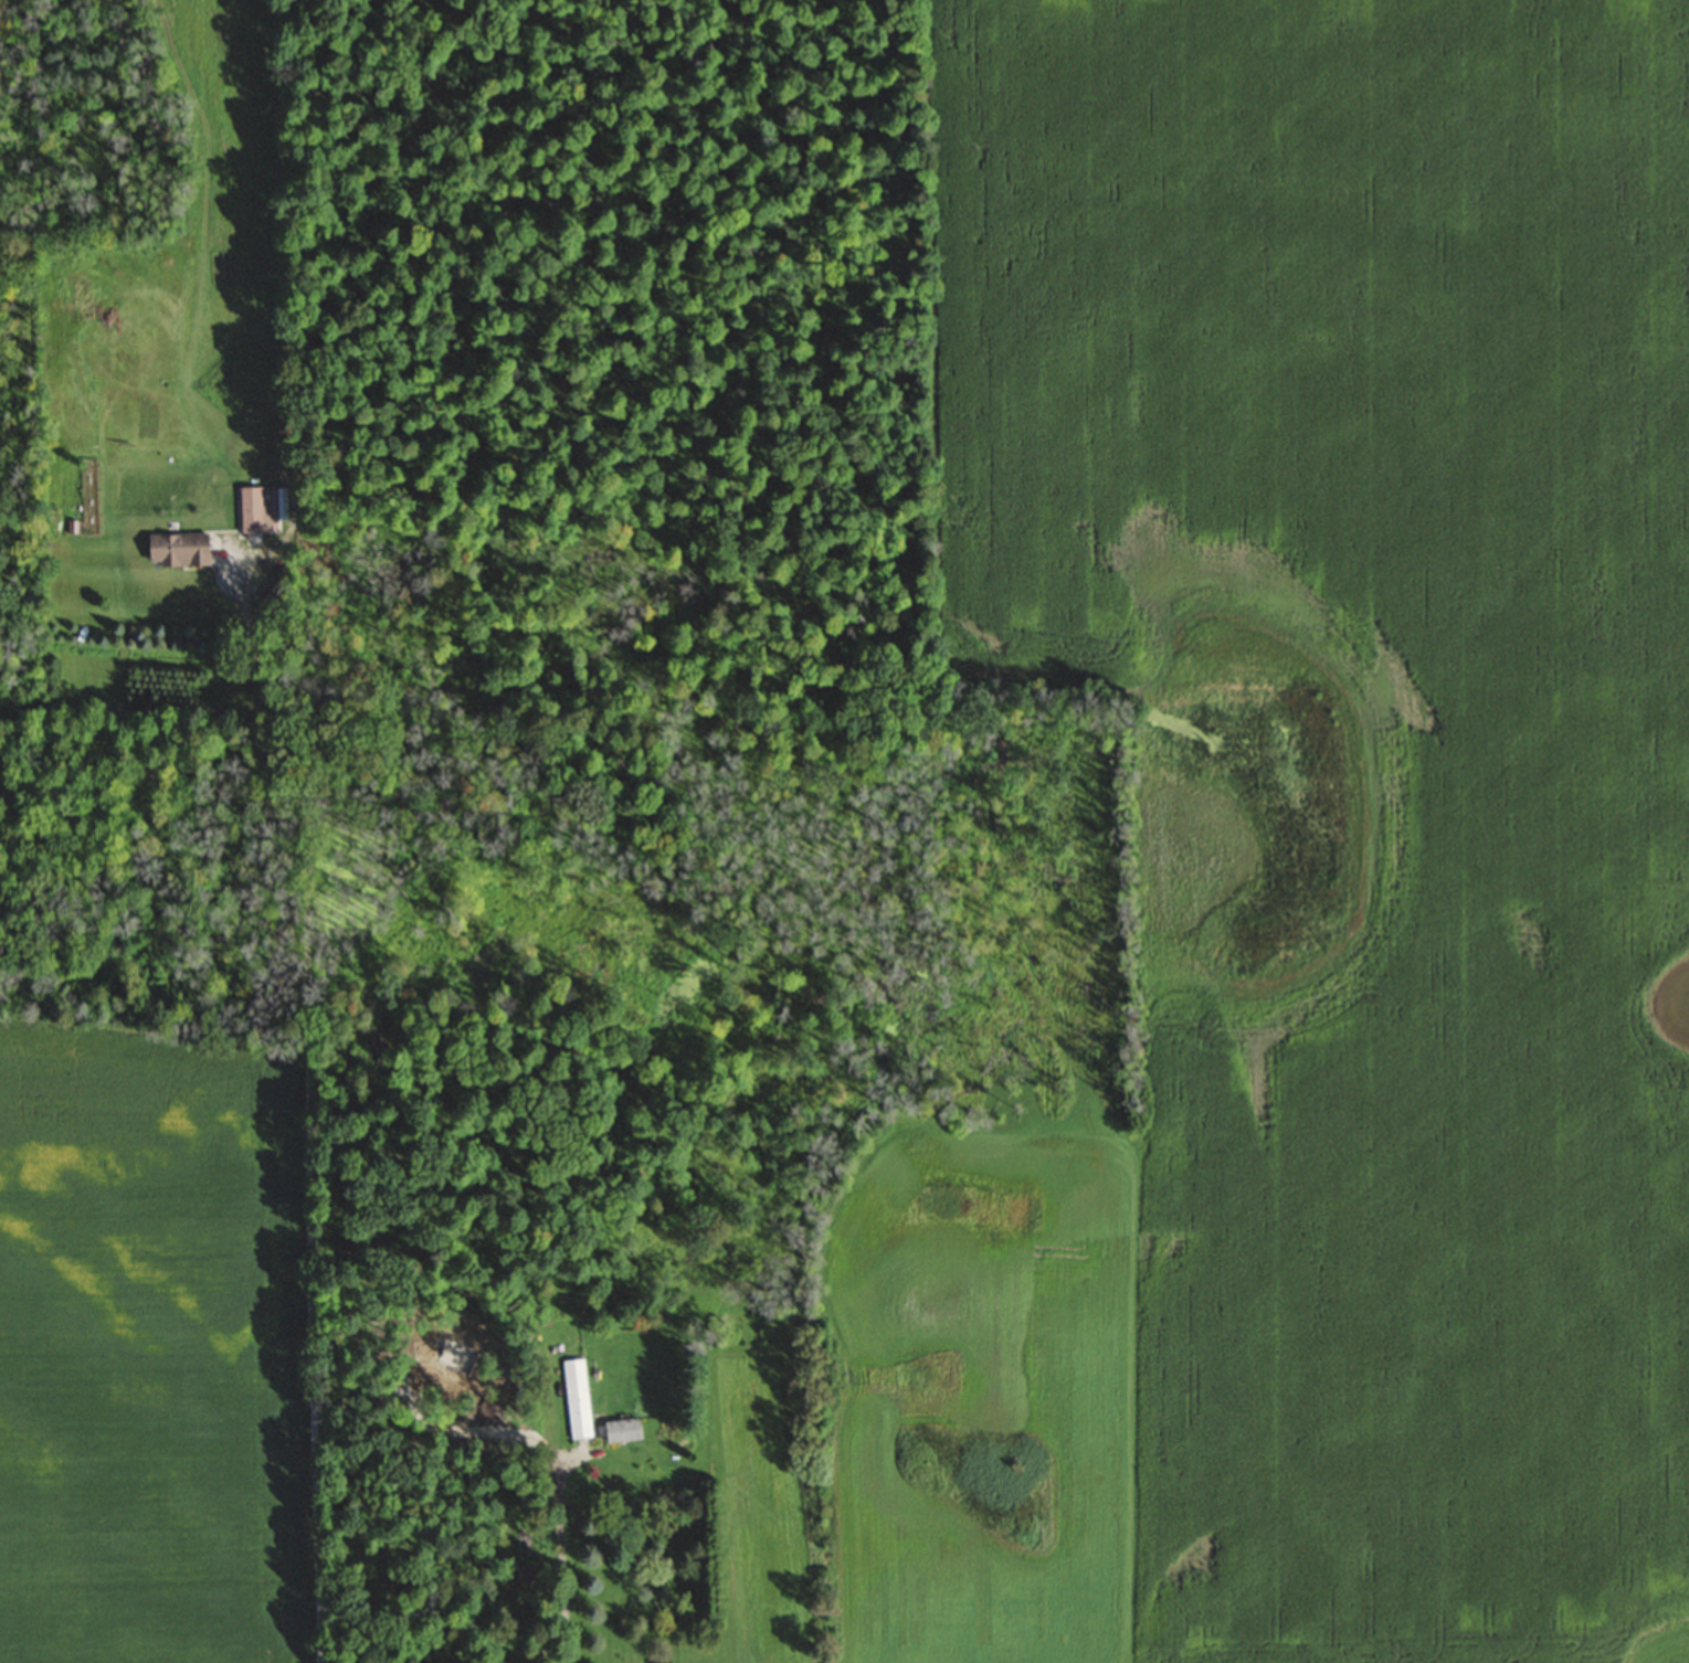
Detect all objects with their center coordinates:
building: (256, 509)
building: (176, 549)
road: (305, 1104)
building: (576, 1398)
building: (621, 1430)
road: (562, 1558)

